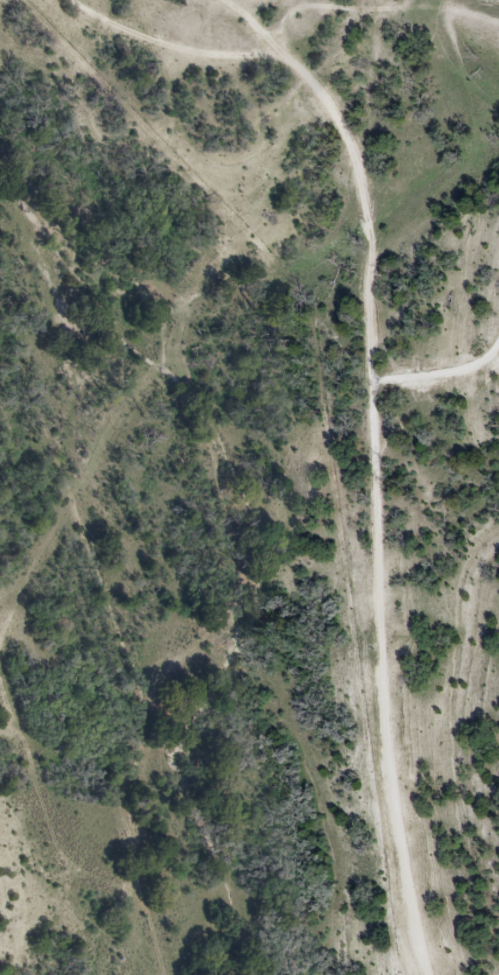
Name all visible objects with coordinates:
road: (387, 393)

